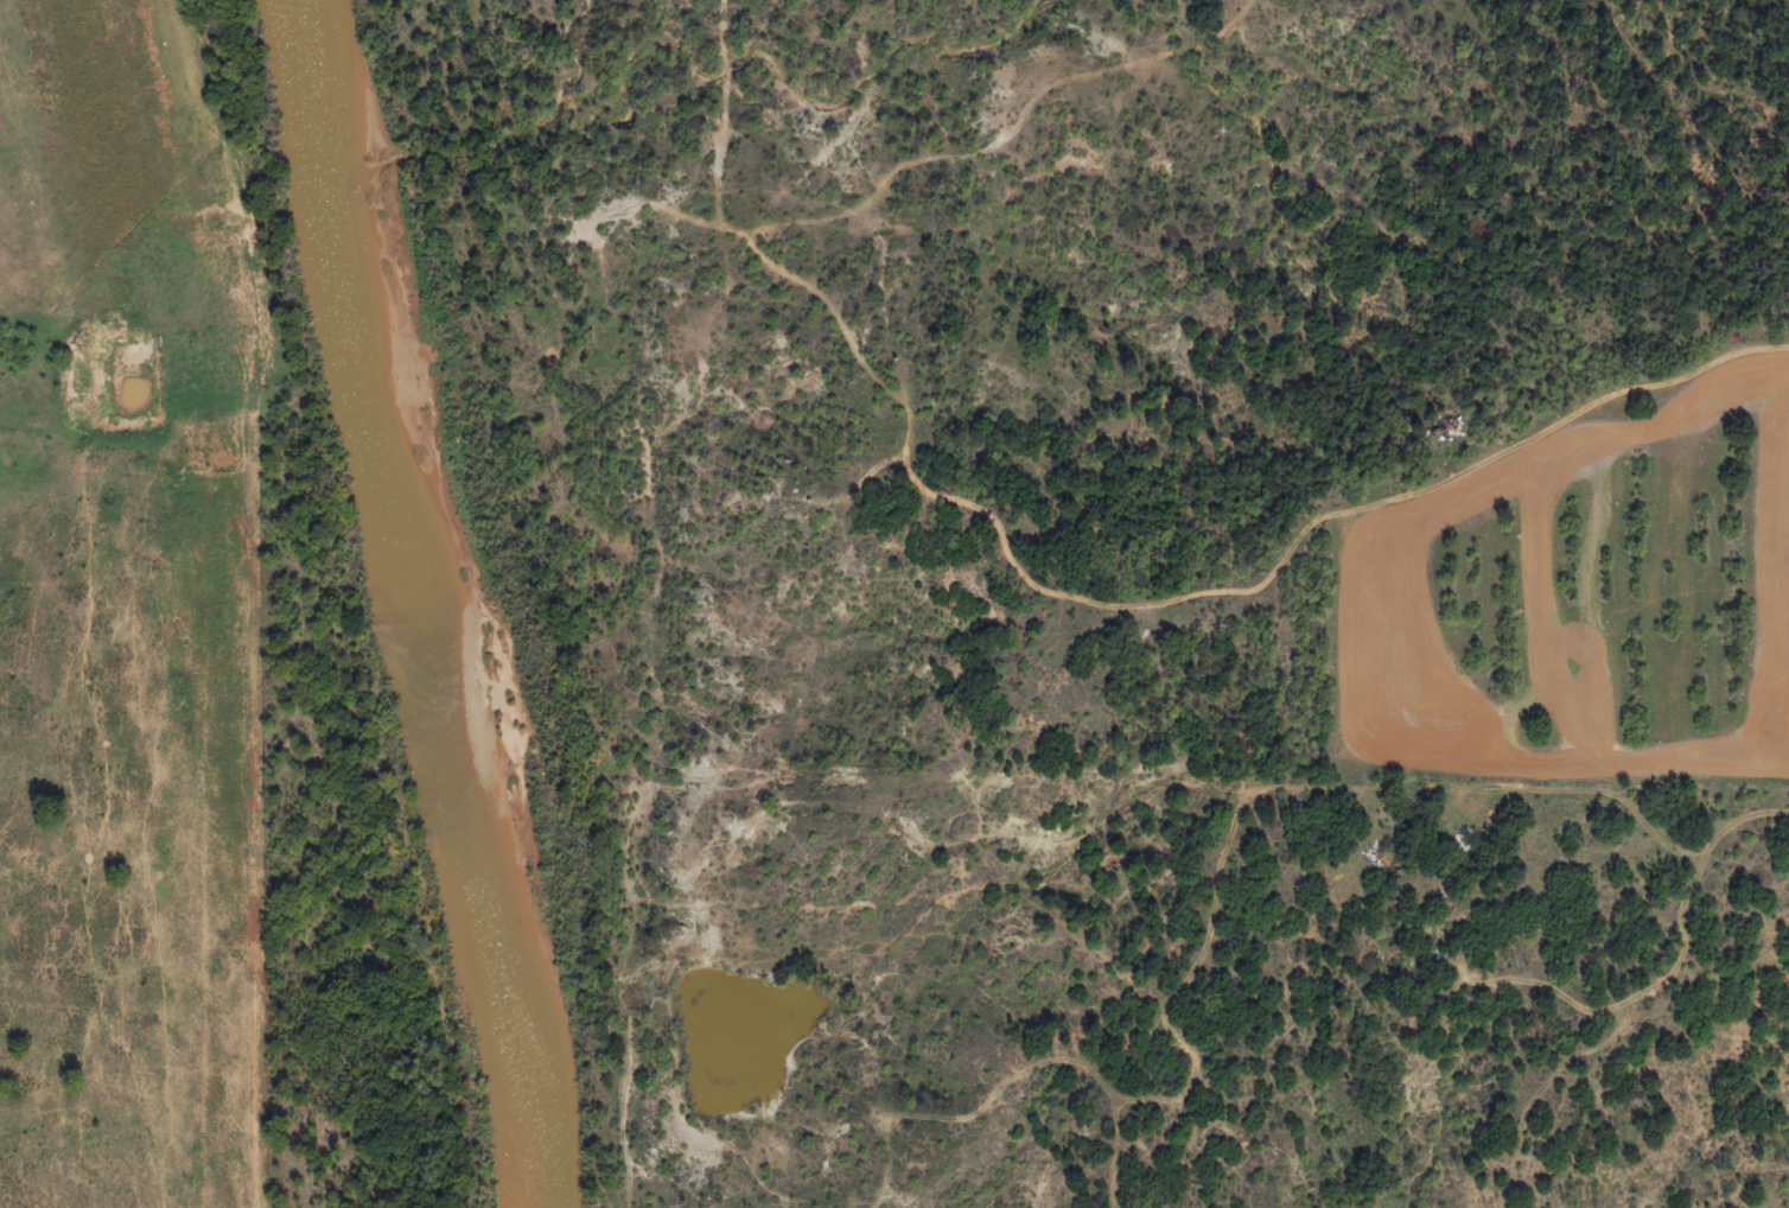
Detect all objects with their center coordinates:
river: (431, 602)
road: (1546, 955)

